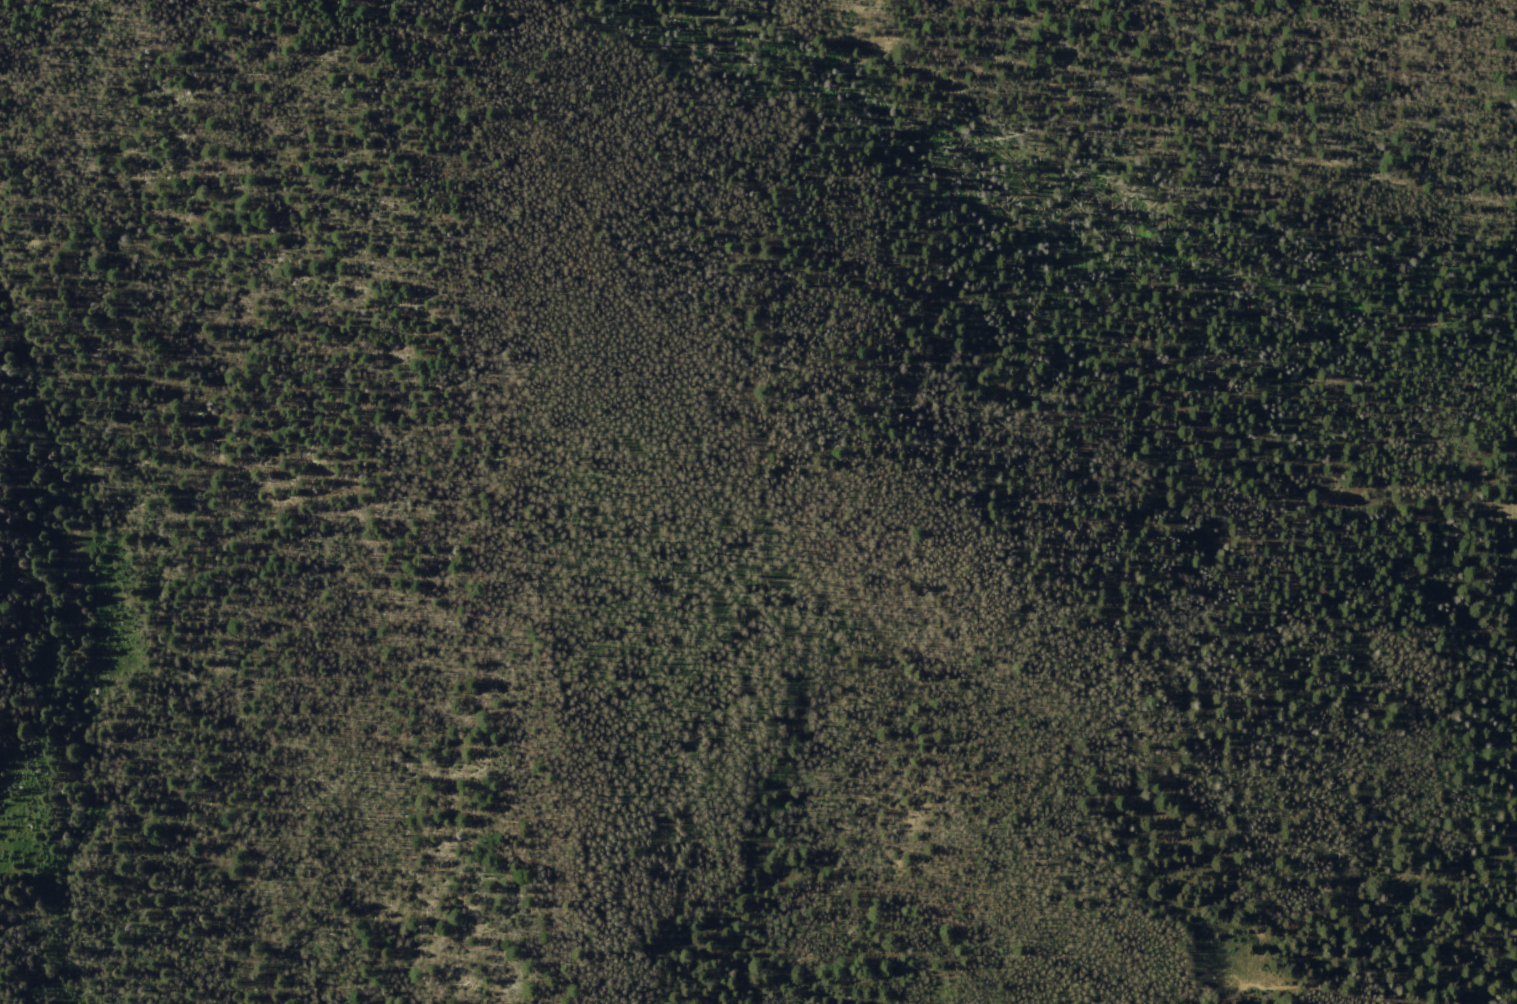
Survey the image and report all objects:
road: (1277, 150)
road: (1490, 212)
road: (787, 370)
river: (77, 666)
road: (1316, 992)

